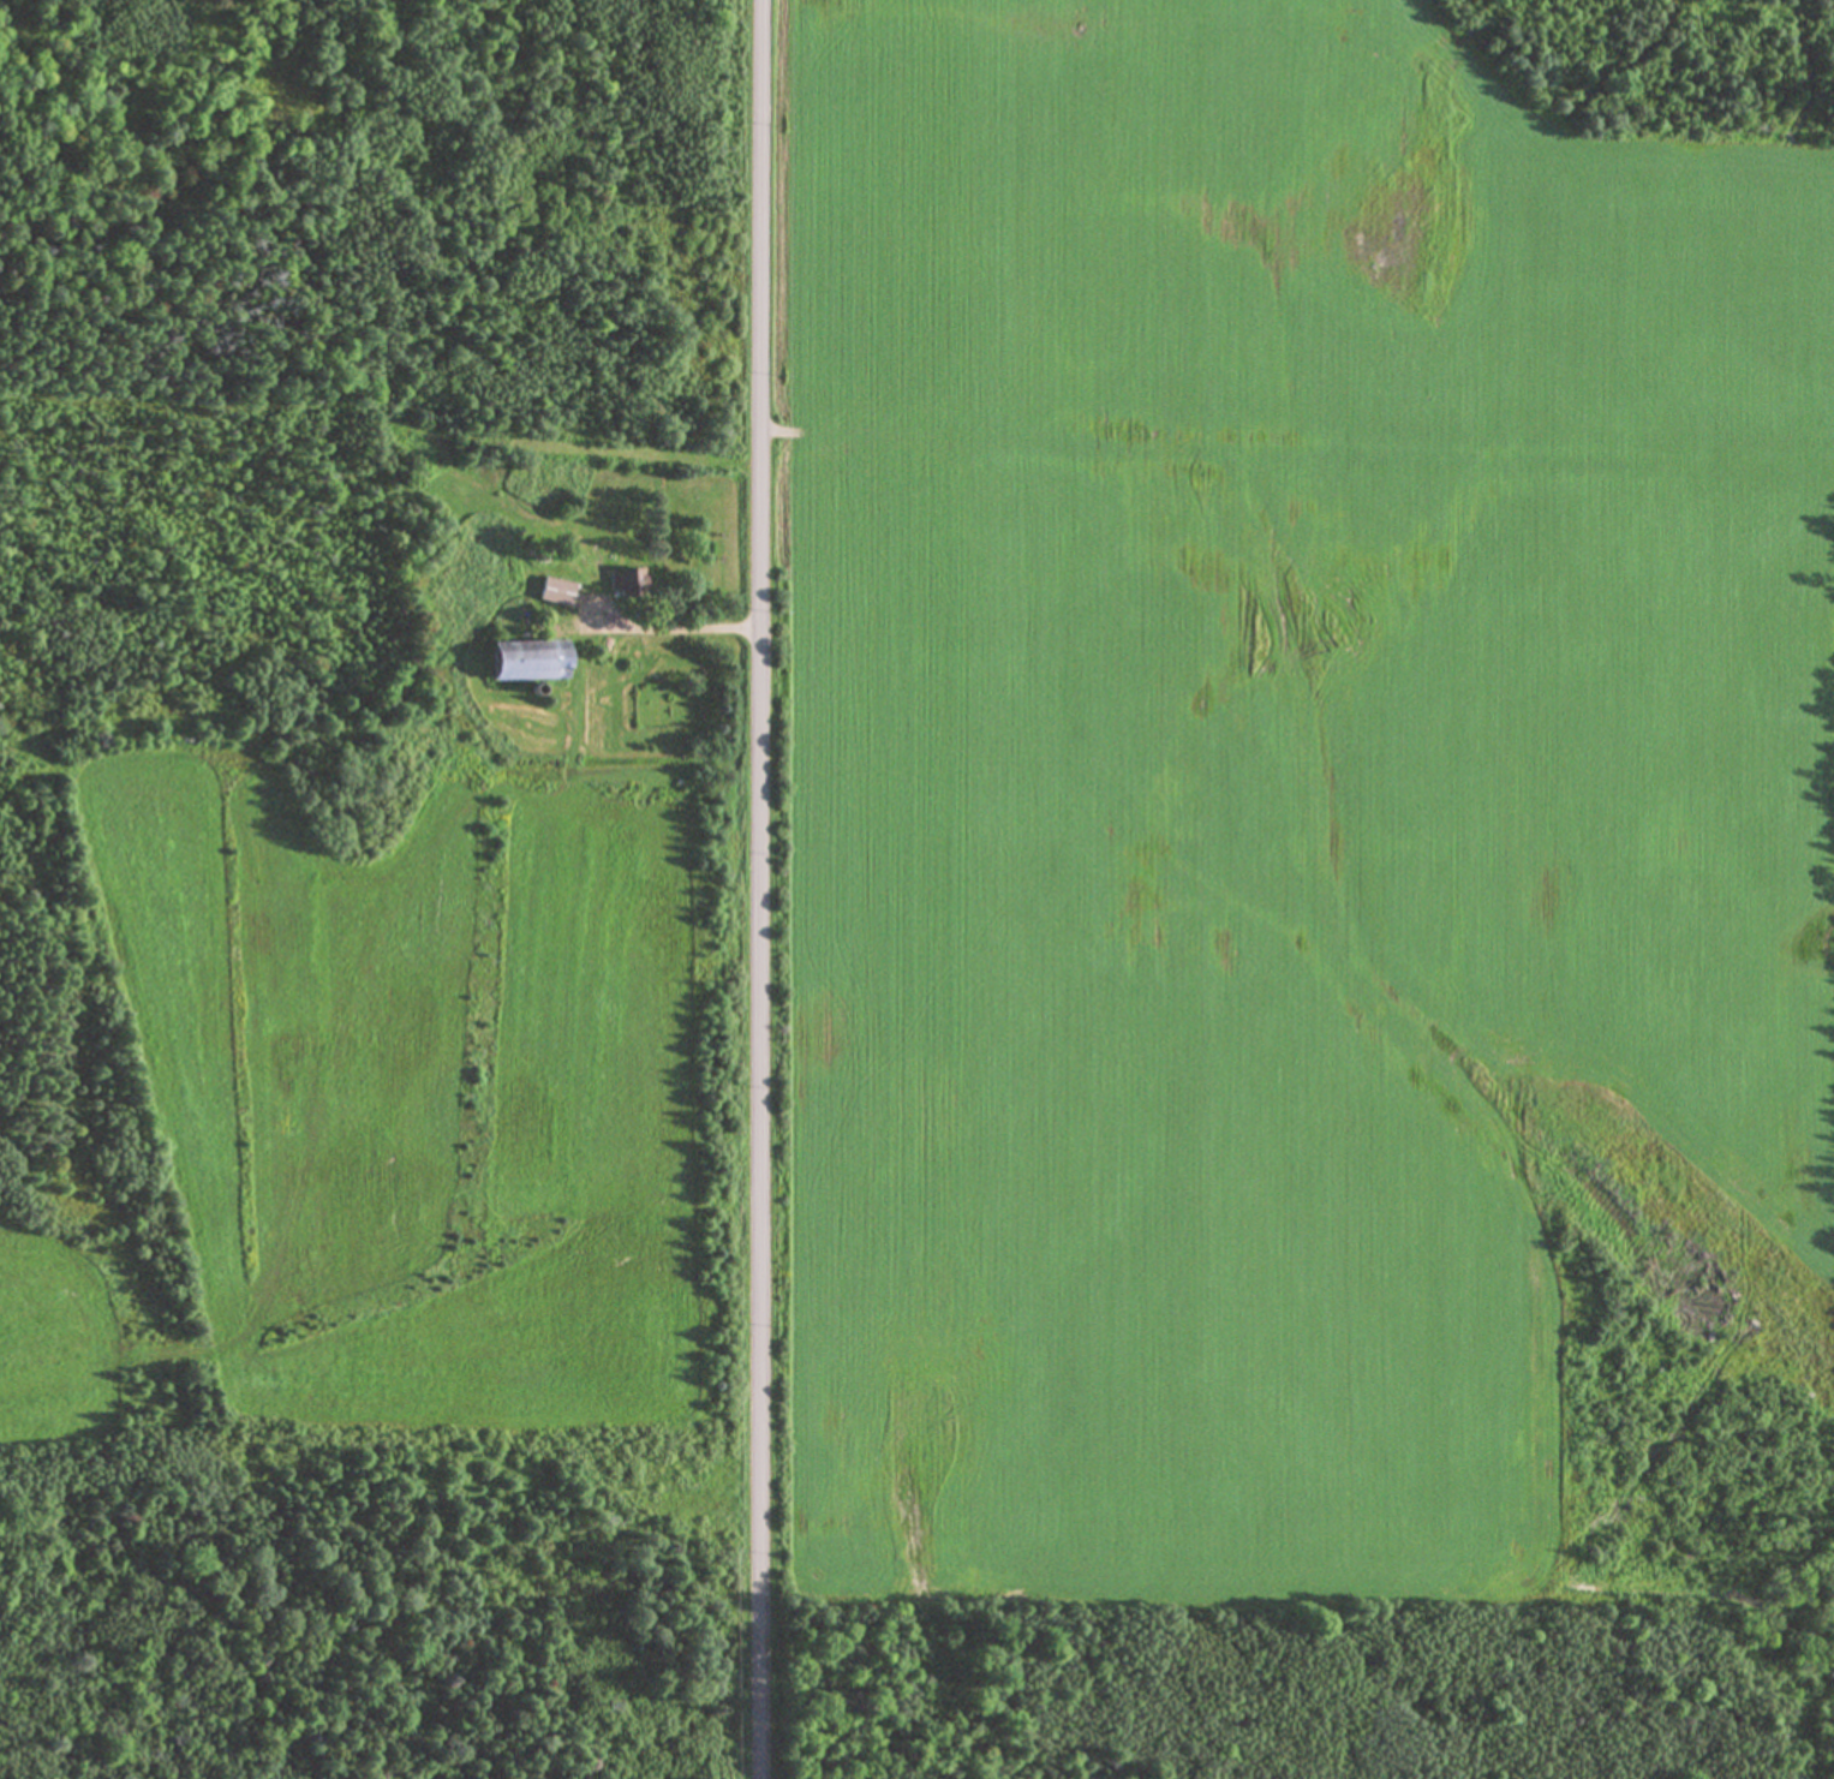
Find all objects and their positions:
road: (1296, 452)
building: (623, 581)
building: (554, 591)
road: (674, 627)
building: (524, 659)
road: (757, 889)

